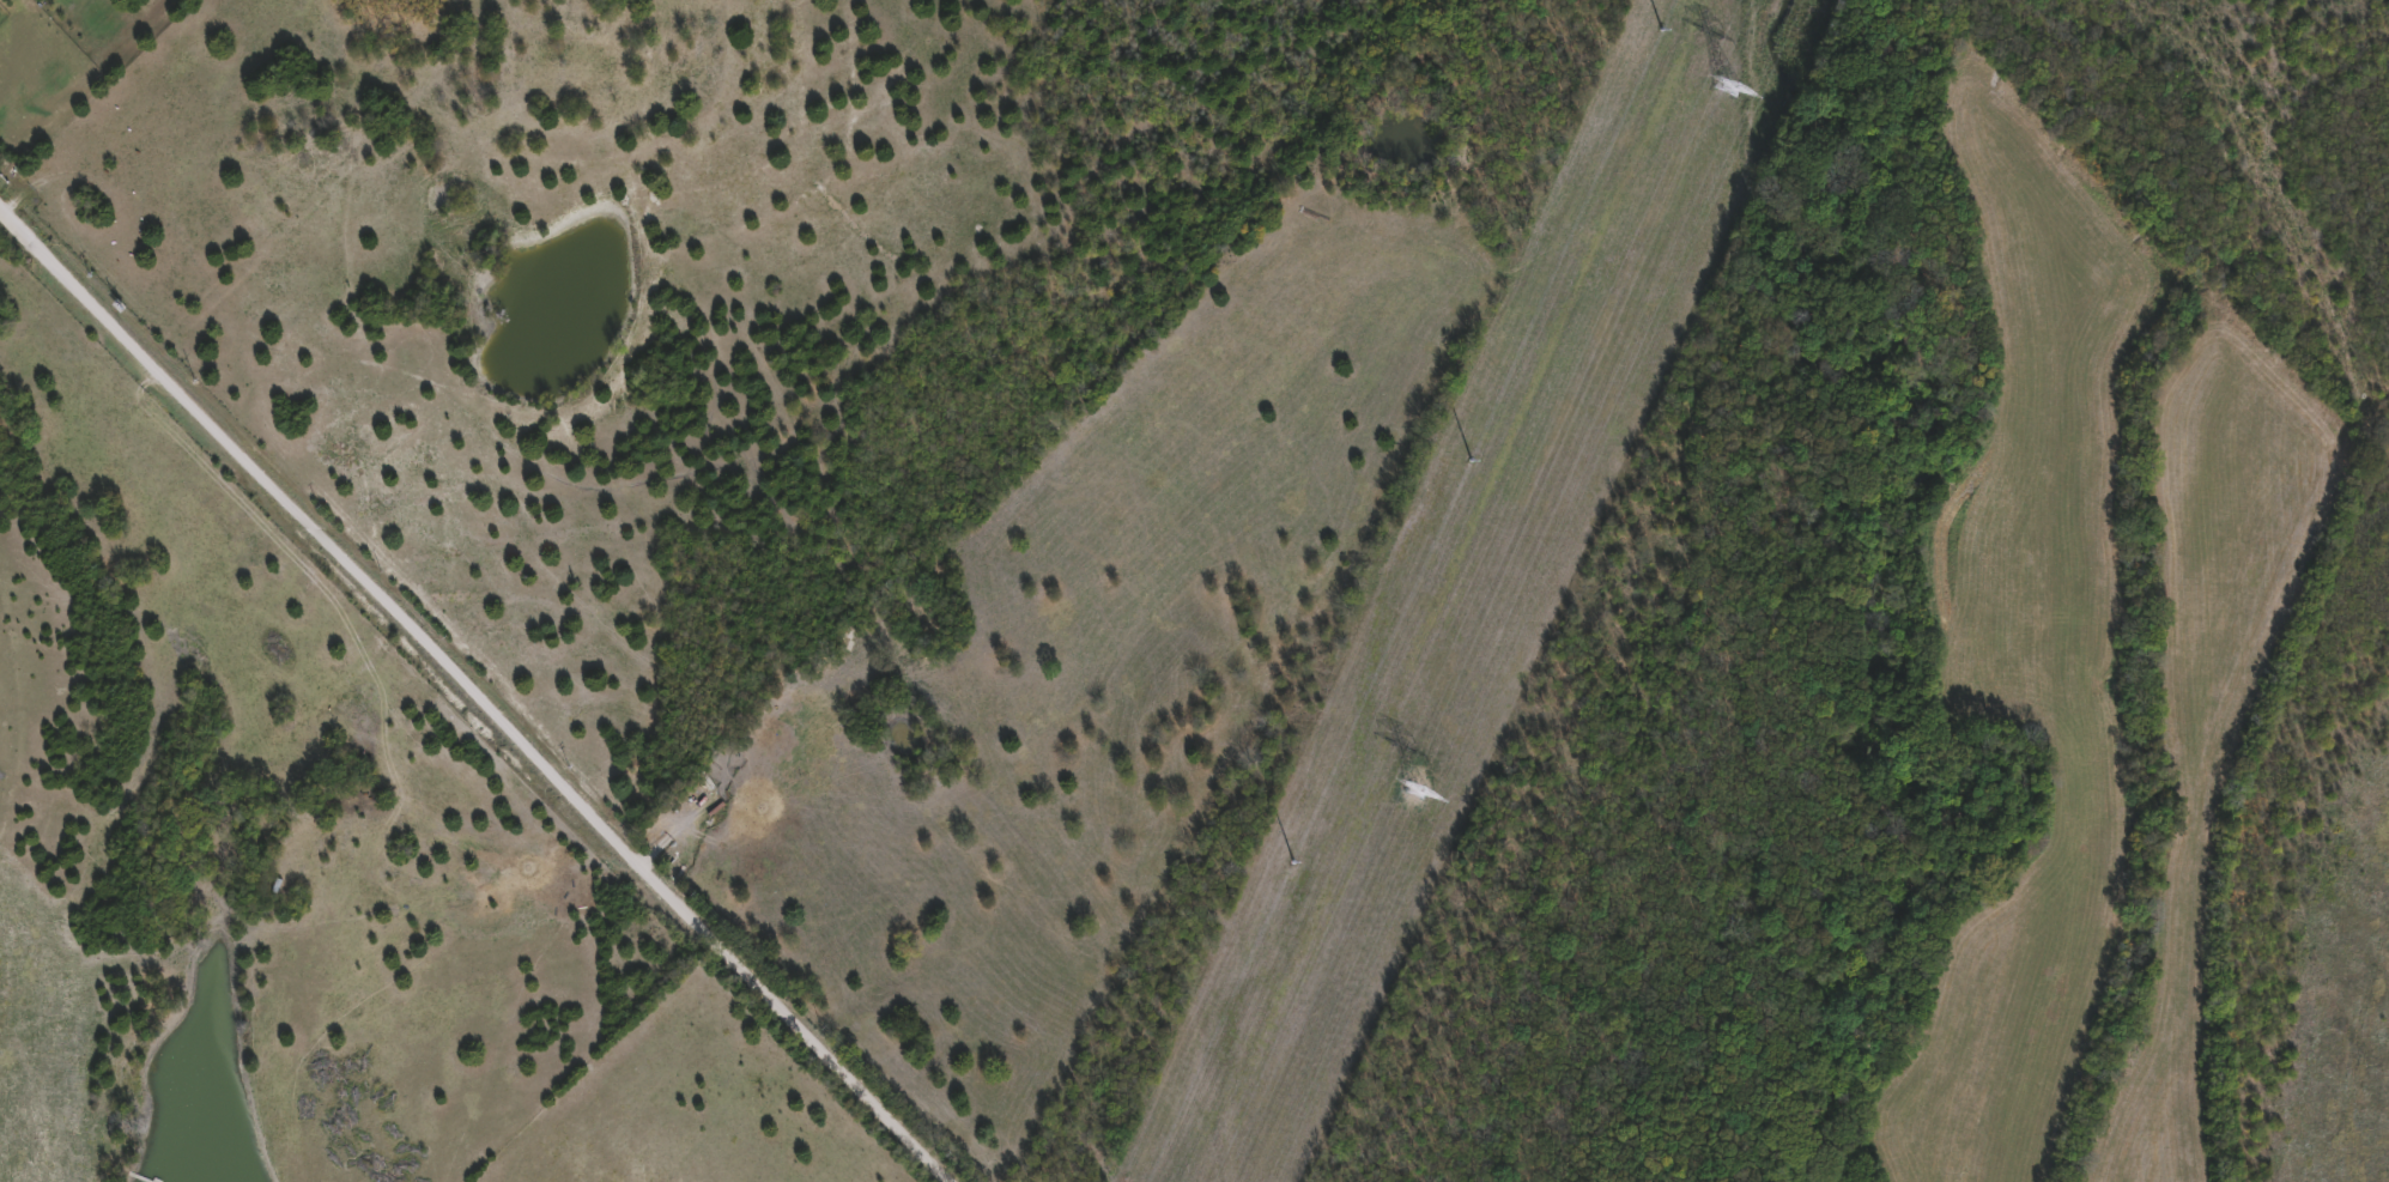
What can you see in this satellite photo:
power tower: (1661, 36)
power tower: (1730, 89)
power tower: (1477, 451)
road: (469, 699)
power tower: (1418, 789)
power tower: (1293, 867)

